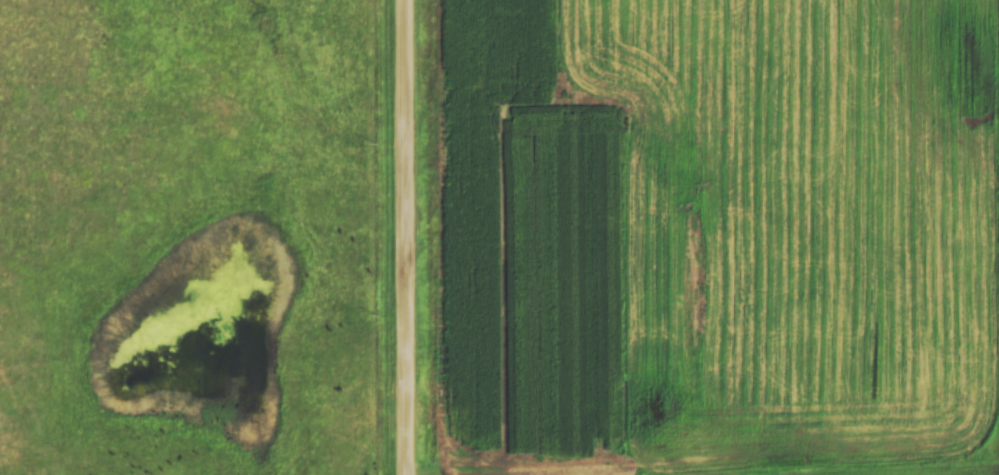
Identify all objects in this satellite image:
road: (407, 237)

